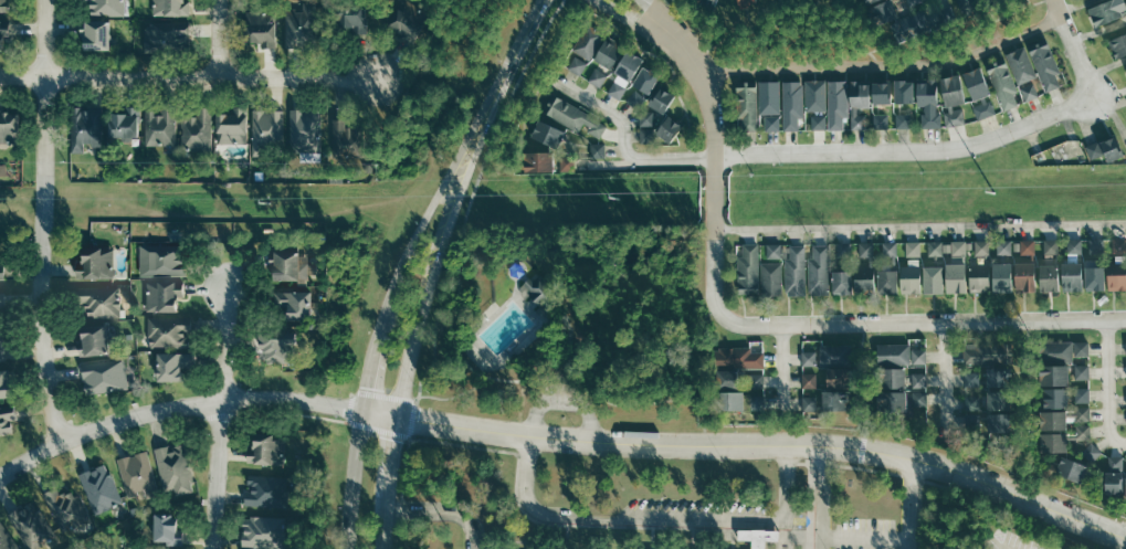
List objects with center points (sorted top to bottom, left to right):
road: (648, 0)
building: (989, 1)
building: (745, 2)
building: (912, 2)
building: (705, 3)
building: (4, 6)
building: (970, 6)
building: (105, 7)
building: (170, 7)
road: (654, 11)
building: (884, 11)
building: (1106, 11)
building: (351, 15)
road: (628, 18)
building: (410, 21)
building: (915, 22)
building: (298, 25)
building: (260, 28)
building: (97, 34)
building: (2, 35)
building: (166, 36)
road: (217, 39)
road: (1070, 46)
building: (1118, 46)
building: (585, 47)
building: (608, 53)
road: (883, 63)
building: (1046, 65)
building: (1023, 73)
building: (623, 74)
road: (187, 77)
building: (596, 77)
building: (646, 80)
building: (1003, 84)
building: (904, 91)
building: (927, 92)
building: (980, 92)
building: (882, 93)
road: (495, 94)
building: (817, 95)
building: (768, 96)
building: (635, 98)
building: (954, 98)
building: (662, 99)
building: (859, 103)
building: (747, 105)
building: (791, 105)
building: (836, 105)
building: (572, 116)
building: (645, 118)
building: (903, 119)
building: (930, 119)
building: (817, 122)
building: (881, 122)
building: (123, 123)
building: (771, 123)
building: (231, 125)
building: (158, 126)
building: (9, 127)
building: (84, 127)
building: (670, 128)
building: (304, 129)
building: (194, 130)
building: (264, 130)
building: (548, 133)
building: (345, 137)
road: (624, 141)
building: (1105, 148)
building: (598, 150)
road: (907, 150)
road: (714, 160)
building: (540, 161)
building: (567, 165)
road: (444, 218)
road: (41, 220)
road: (424, 224)
road: (919, 224)
road: (1073, 230)
road: (1095, 230)
road: (1119, 230)
road: (1002, 231)
road: (1027, 231)
road: (1051, 231)
road: (935, 232)
road: (958, 232)
road: (980, 232)
road: (888, 233)
road: (913, 233)
road: (843, 234)
road: (865, 234)
road: (750, 235)
road: (774, 235)
road: (820, 235)
road: (797, 236)
building: (1095, 244)
building: (1118, 244)
building: (1027, 245)
building: (1050, 245)
building: (1074, 245)
building: (957, 246)
building: (981, 246)
building: (1003, 246)
building: (888, 247)
building: (912, 247)
building: (934, 247)
building: (843, 249)
building: (865, 249)
building: (774, 250)
building: (161, 261)
building: (96, 263)
building: (285, 265)
building: (746, 267)
building: (818, 268)
building: (793, 270)
building: (1, 272)
building: (1116, 275)
building: (1024, 276)
building: (1071, 276)
building: (956, 277)
building: (978, 277)
building: (1001, 277)
building: (1049, 277)
building: (770, 278)
building: (909, 278)
building: (1094, 278)
building: (863, 279)
building: (933, 279)
building: (887, 282)
building: (842, 283)
building: (530, 289)
building: (544, 291)
road: (387, 295)
building: (162, 296)
road: (423, 297)
building: (1, 299)
building: (97, 300)
building: (294, 304)
road: (1093, 304)
road: (1114, 304)
road: (1023, 305)
road: (1050, 305)
road: (1066, 305)
road: (933, 306)
road: (955, 306)
road: (975, 306)
road: (1003, 306)
road: (744, 307)
road: (860, 307)
road: (887, 307)
road: (906, 307)
road: (788, 308)
road: (811, 308)
road: (840, 308)
road: (772, 309)
road: (923, 320)
building: (167, 332)
building: (93, 339)
road: (1020, 342)
road: (225, 344)
building: (2, 346)
building: (811, 346)
building: (277, 347)
building: (1081, 347)
road: (1097, 348)
road: (1116, 348)
road: (1033, 349)
building: (988, 351)
building: (1054, 351)
building: (834, 353)
road: (855, 353)
building: (892, 353)
building: (737, 356)
road: (869, 356)
building: (918, 356)
road: (935, 356)
road: (954, 356)
road: (706, 357)
road: (791, 357)
building: (808, 357)
road: (772, 358)
road: (861, 361)
road: (782, 362)
building: (173, 366)
road: (367, 370)
building: (1081, 370)
road: (1097, 370)
road: (1116, 370)
road: (701, 371)
road: (1019, 371)
building: (1054, 374)
building: (104, 376)
building: (998, 376)
road: (1034, 376)
road: (708, 377)
road: (856, 377)
building: (890, 377)
road: (945, 377)
building: (727, 378)
building: (838, 378)
road: (955, 378)
building: (971, 378)
road: (772, 379)
road: (791, 379)
building: (809, 379)
road: (871, 379)
road: (935, 379)
building: (756, 380)
building: (918, 380)
building: (4, 383)
road: (404, 383)
road: (1107, 384)
road: (857, 393)
building: (1081, 393)
road: (1097, 393)
road: (1020, 397)
building: (1053, 397)
road: (708, 398)
building: (918, 398)
road: (935, 398)
building: (999, 399)
building: (836, 400)
road: (1116, 400)
road: (561, 401)
building: (728, 401)
building: (756, 401)
road: (772, 401)
building: (892, 401)
building: (972, 401)
building: (809, 402)
road: (955, 402)
road: (1033, 402)
road: (791, 403)
road: (872, 403)
road: (1028, 407)
building: (1082, 412)
road: (1098, 412)
building: (7, 418)
road: (1116, 418)
road: (1034, 419)
building: (1053, 419)
road: (955, 421)
building: (971, 421)
building: (999, 422)
road: (1020, 422)
road: (1098, 429)
building: (1082, 431)
road: (1034, 437)
road: (561, 439)
road: (1104, 440)
building: (1054, 442)
road: (1117, 448)
building: (266, 450)
building: (1091, 451)
road: (1040, 456)
road: (389, 458)
building: (1115, 463)
building: (172, 468)
building: (1071, 468)
road: (214, 474)
building: (137, 476)
road: (348, 479)
building: (1113, 483)
building: (99, 488)
building: (265, 490)
road: (821, 496)
road: (909, 503)
building: (64, 507)
road: (442, 510)
road: (1115, 513)
road: (659, 519)
road: (385, 525)
building: (30, 526)
building: (167, 529)
building: (262, 531)
building: (759, 536)
road: (864, 539)
building: (6, 540)

